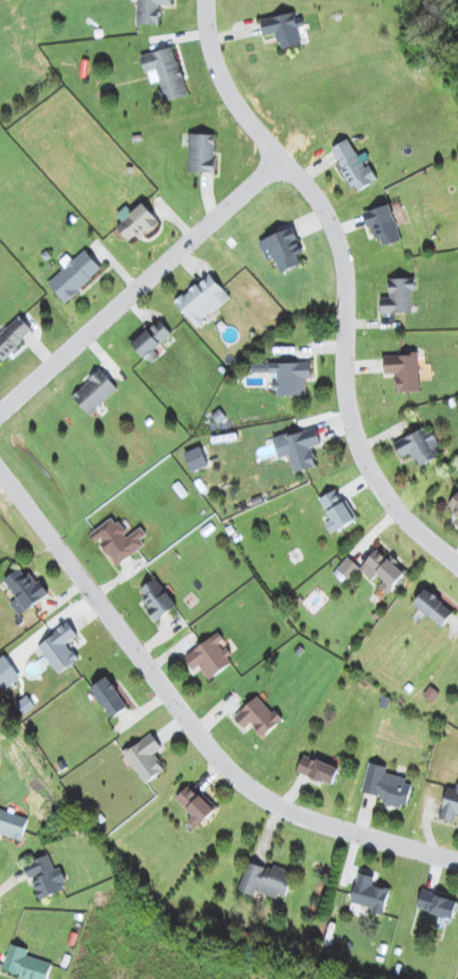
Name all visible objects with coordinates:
building: (150, 10)
building: (285, 28)
building: (166, 72)
building: (202, 152)
building: (353, 164)
building: (137, 222)
building: (383, 224)
building: (286, 248)
building: (75, 275)
road: (346, 282)
road: (140, 285)
building: (399, 295)
building: (203, 299)
building: (13, 336)
building: (152, 340)
building: (404, 370)
building: (287, 375)
building: (95, 391)
building: (419, 446)
building: (299, 447)
building: (196, 458)
building: (454, 505)
building: (339, 509)
building: (119, 539)
building: (346, 569)
building: (384, 569)
building: (25, 590)
building: (157, 598)
building: (434, 607)
building: (60, 648)
building: (210, 656)
building: (110, 697)
building: (258, 716)
road: (189, 719)
building: (145, 757)
building: (318, 769)
building: (387, 785)
building: (450, 805)
building: (12, 824)
building: (46, 877)
building: (266, 880)
building: (369, 893)
building: (438, 903)
building: (26, 964)

